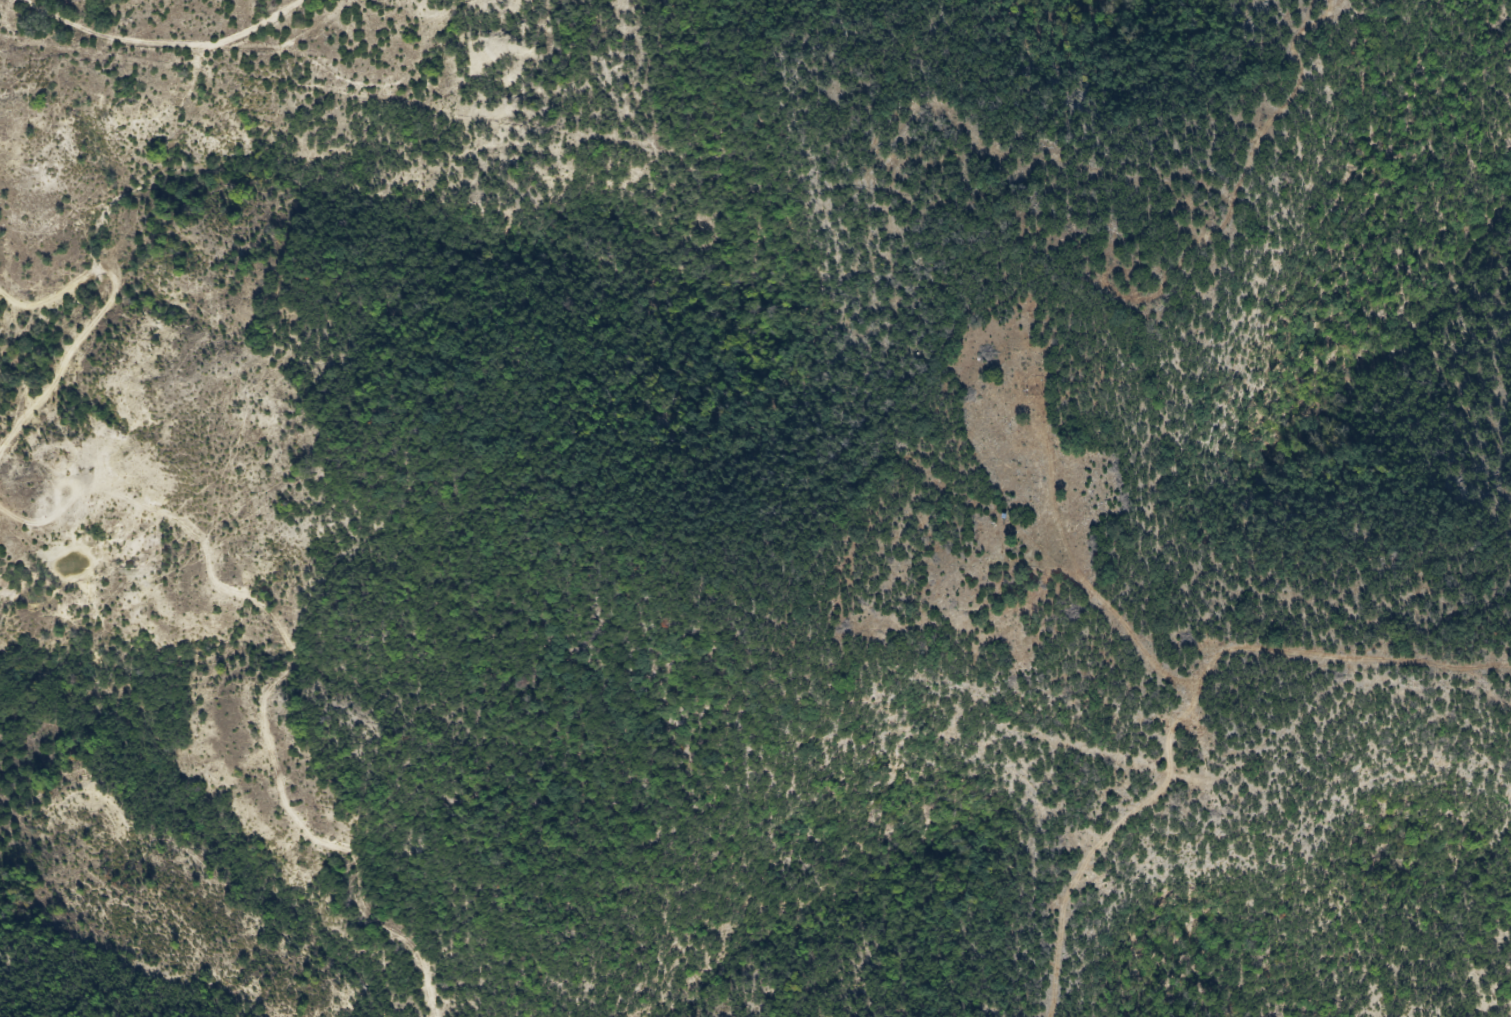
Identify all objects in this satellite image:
road: (103, 330)
road: (1, 522)

